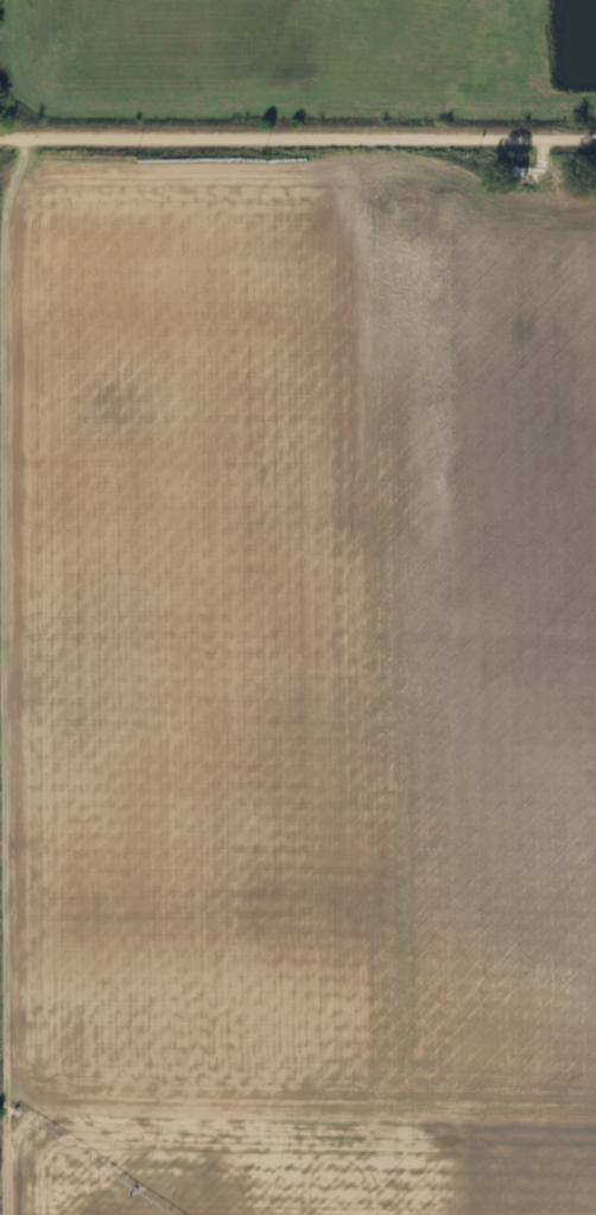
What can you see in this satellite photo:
road: (297, 144)

